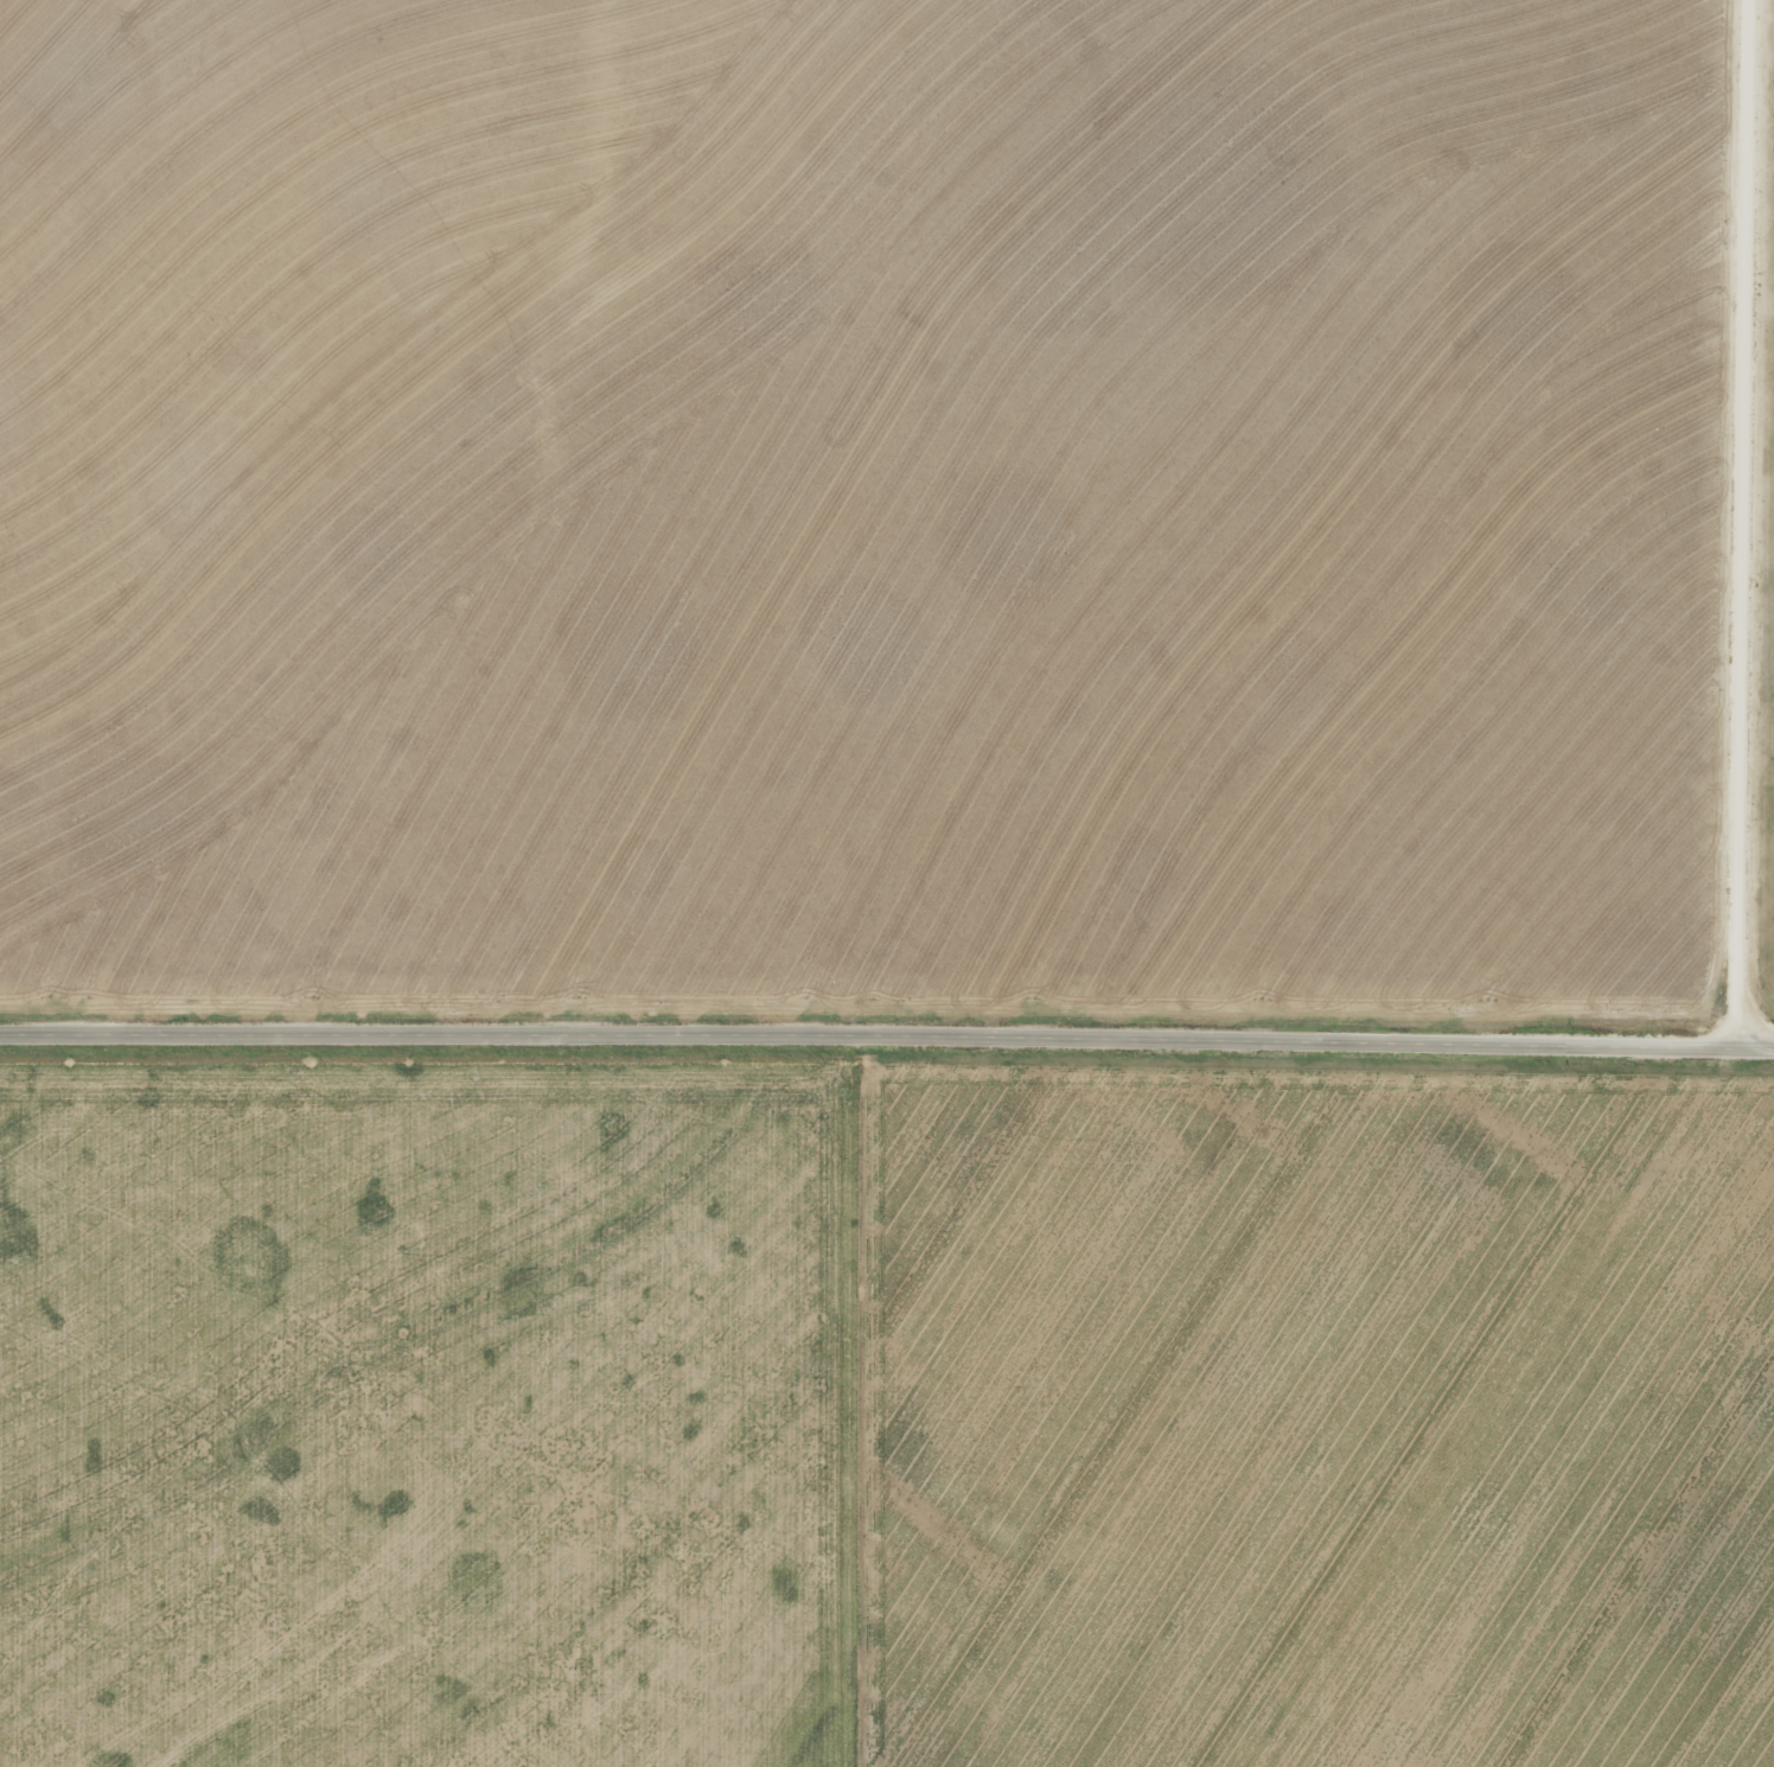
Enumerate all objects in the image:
road: (1754, 623)
road: (887, 1038)

